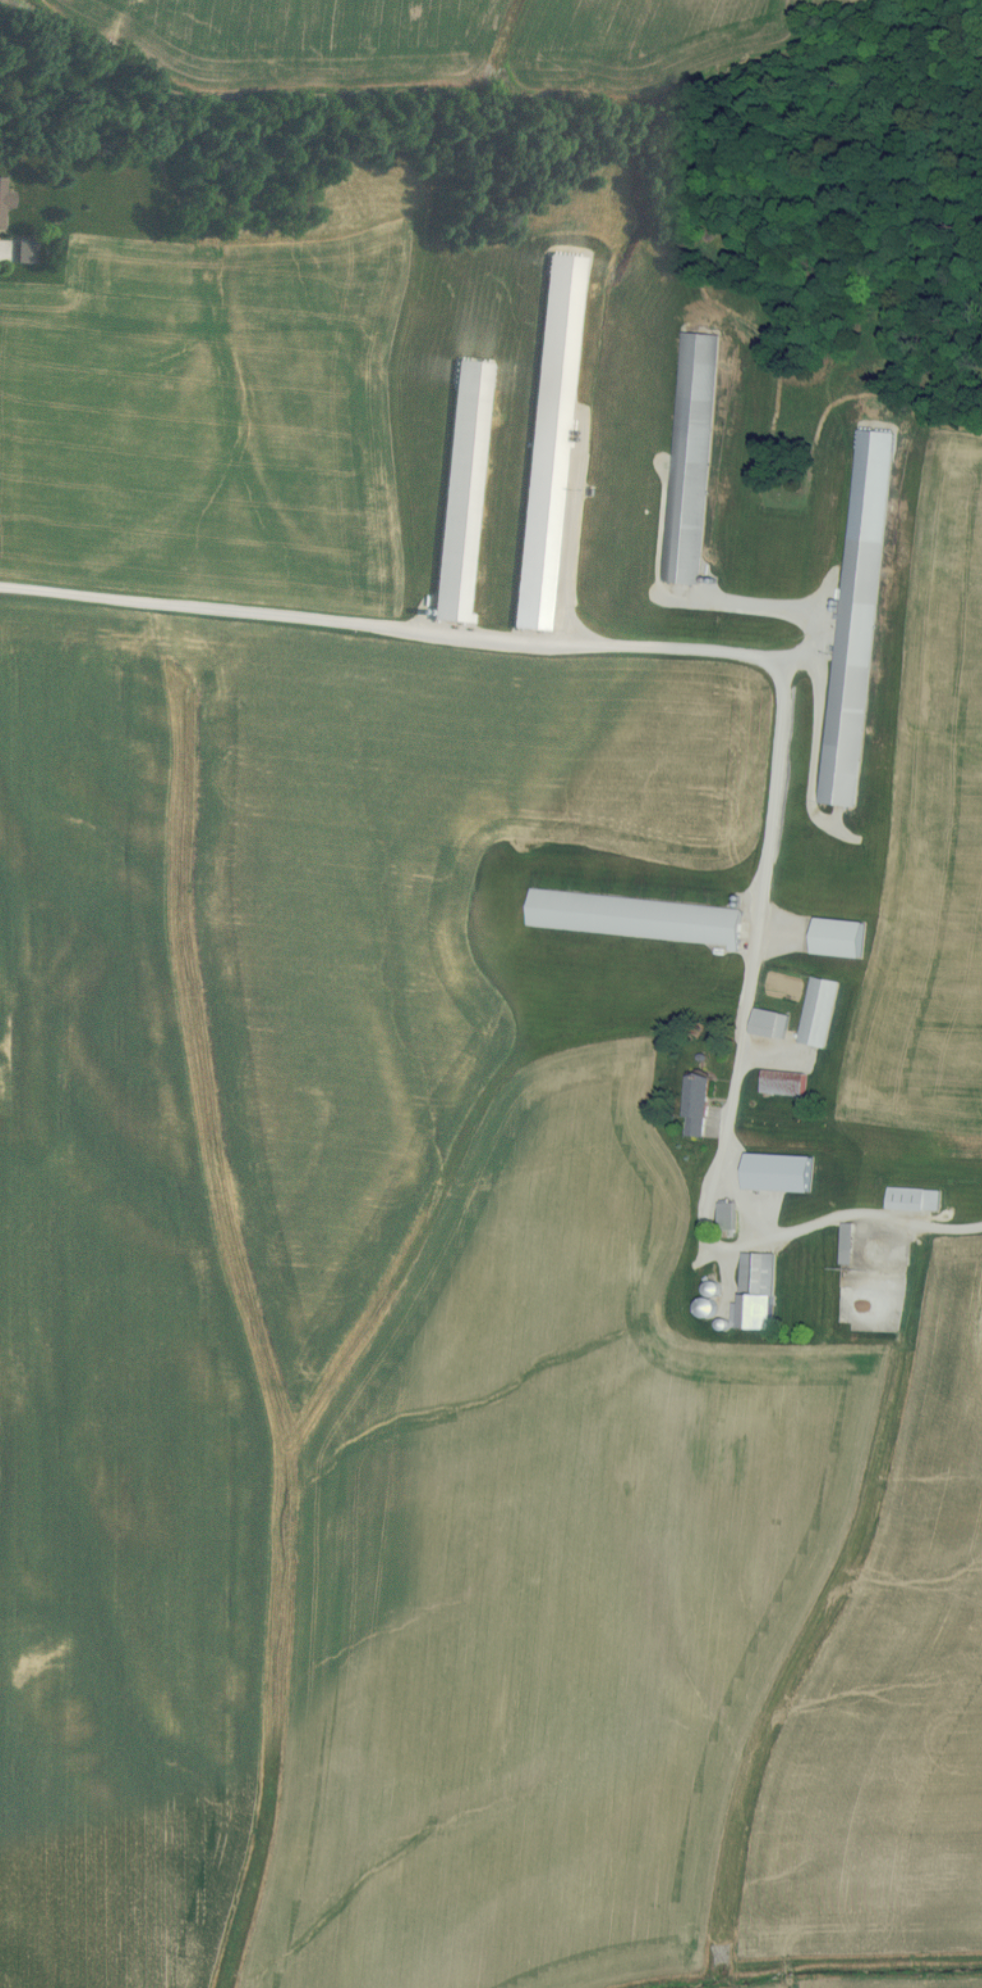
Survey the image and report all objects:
building: (1, 200)
building: (546, 441)
building: (690, 457)
building: (459, 491)
road: (768, 609)
building: (856, 617)
road: (779, 701)
road: (817, 731)
building: (633, 916)
building: (837, 936)
building: (817, 1011)
building: (769, 1023)
building: (783, 1082)
building: (695, 1105)
building: (789, 1172)
building: (912, 1198)
building: (725, 1219)
building: (845, 1243)
building: (711, 1288)
building: (754, 1292)
building: (705, 1307)

